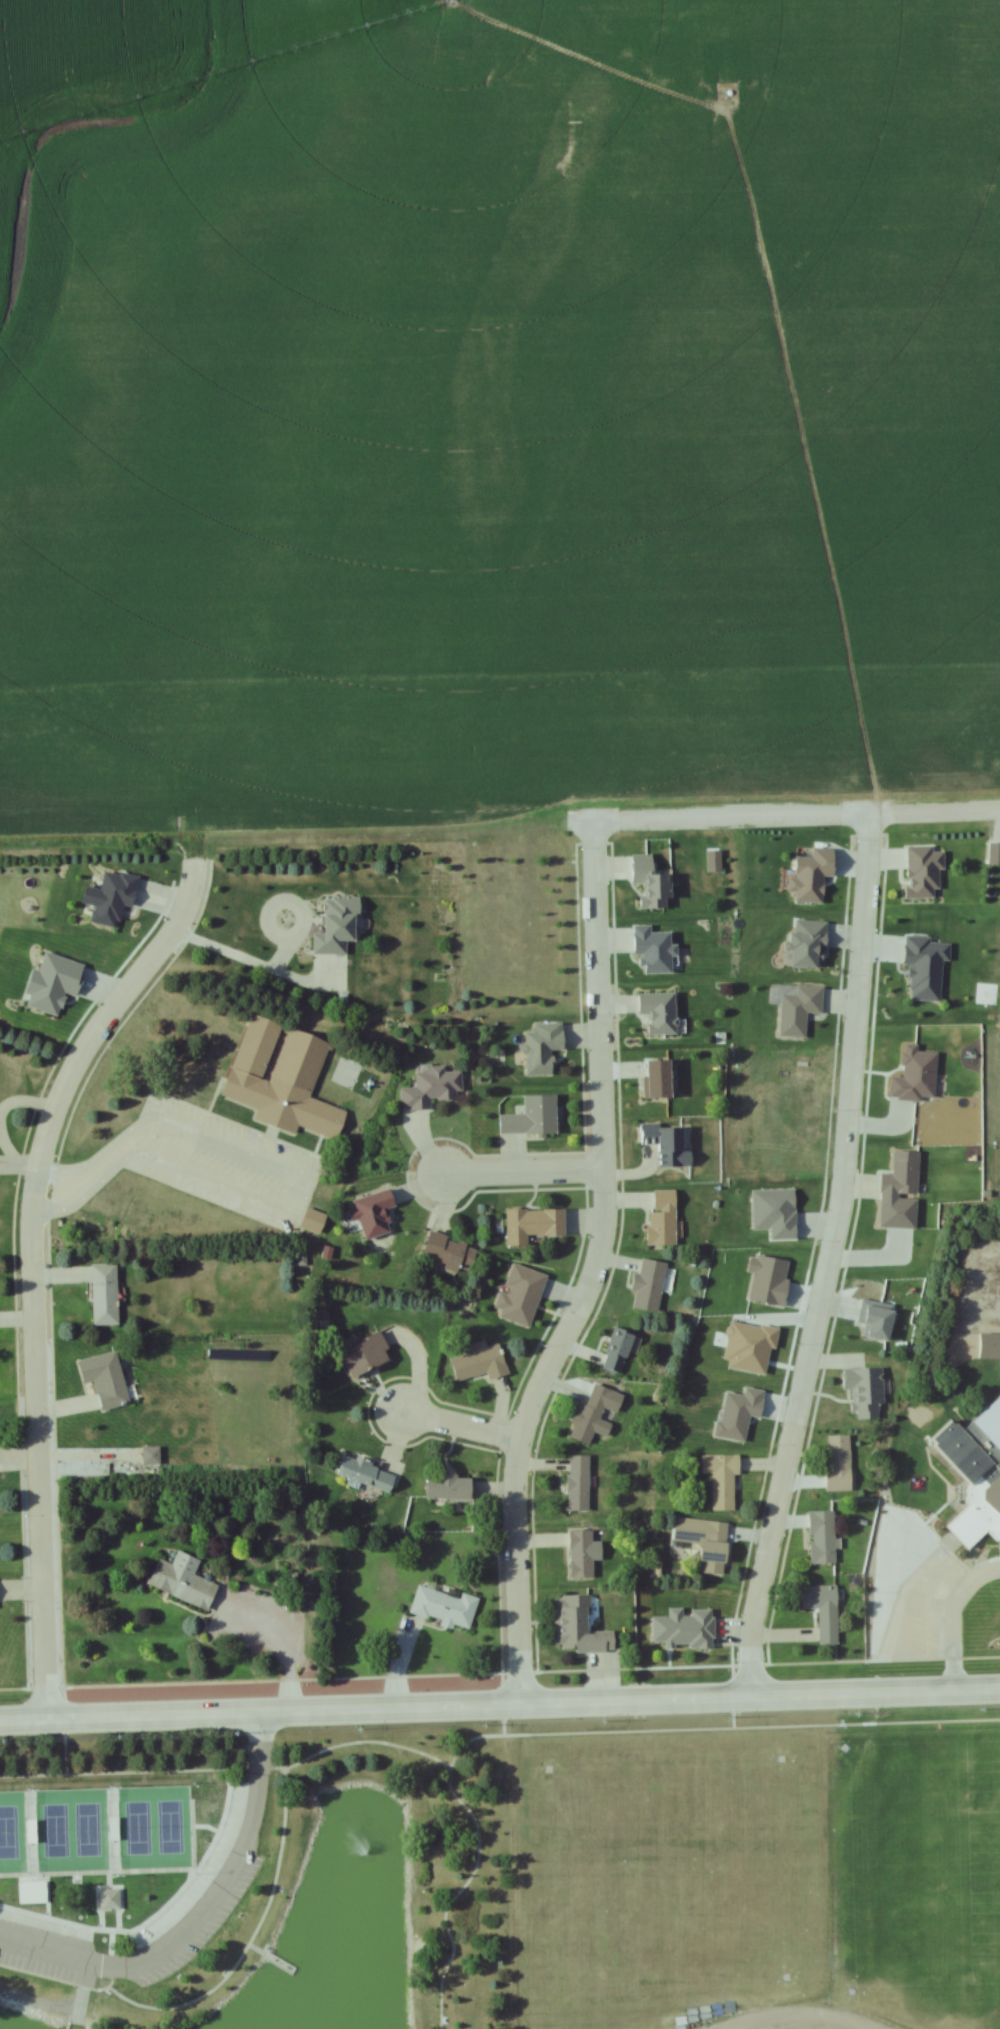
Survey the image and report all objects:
crop: (84, 70)
crop: (511, 420)
building: (999, 780)
building: (924, 872)
building: (811, 877)
building: (652, 883)
building: (113, 898)
building: (339, 926)
building: (659, 1011)
building: (542, 1047)
building: (658, 1078)
building: (282, 1079)
building: (431, 1087)
building: (531, 1116)
road: (157, 1127)
building: (667, 1144)
road: (513, 1171)
building: (900, 1175)
building: (374, 1212)
building: (662, 1217)
building: (532, 1224)
building: (449, 1252)
road: (824, 1259)
road: (27, 1269)
road: (590, 1272)
building: (648, 1285)
building: (104, 1293)
building: (989, 1345)
building: (618, 1350)
building: (366, 1354)
building: (480, 1361)
building: (109, 1379)
building: (864, 1391)
building: (590, 1418)
road: (450, 1424)
building: (151, 1454)
building: (838, 1462)
building: (367, 1474)
building: (722, 1478)
building: (577, 1482)
building: (971, 1483)
building: (449, 1486)
building: (822, 1536)
building: (715, 1547)
building: (580, 1553)
building: (183, 1580)
building: (443, 1606)
building: (823, 1610)
road: (949, 1615)
building: (572, 1621)
road: (499, 1704)
park: (105, 1825)
park: (258, 1876)
building: (110, 1899)
road: (197, 1919)
road: (805, 2023)

